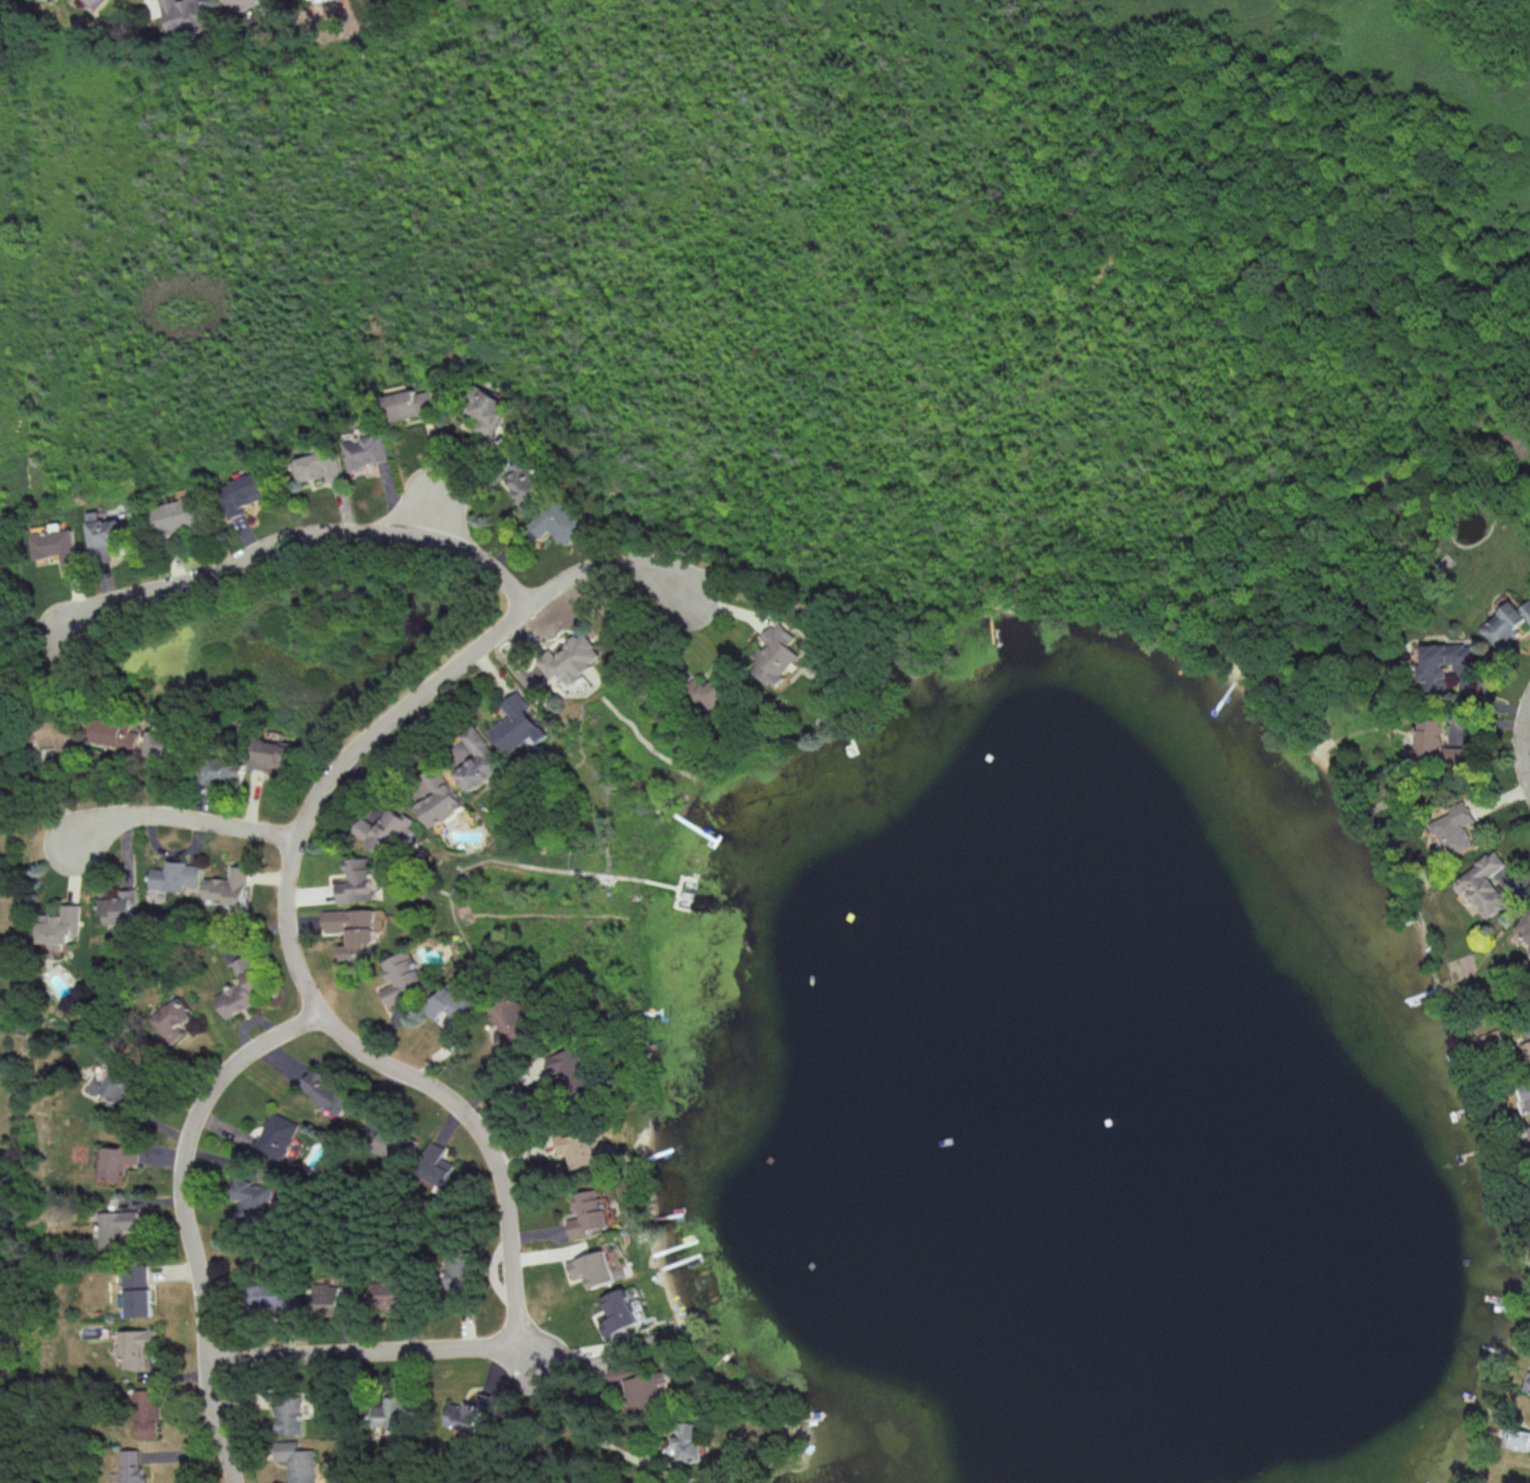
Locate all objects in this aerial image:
building: (95, 3)
building: (185, 14)
building: (410, 402)
building: (489, 413)
building: (366, 448)
building: (318, 465)
road: (430, 479)
building: (524, 479)
building: (244, 489)
road: (455, 491)
building: (178, 514)
building: (559, 522)
building: (109, 529)
road: (302, 536)
building: (56, 547)
road: (21, 612)
building: (1506, 624)
building: (779, 653)
building: (573, 659)
building: (1443, 664)
building: (518, 724)
building: (119, 734)
building: (58, 736)
building: (163, 739)
building: (1430, 739)
road: (1522, 748)
building: (275, 751)
building: (480, 760)
building: (225, 771)
building: (441, 799)
road: (187, 819)
building: (1456, 829)
building: (386, 830)
building: (177, 875)
building: (358, 880)
building: (230, 886)
building: (121, 907)
park: (23, 921)
building: (61, 926)
building: (1524, 926)
building: (354, 928)
building: (403, 977)
building: (242, 989)
building: (452, 1001)
road: (335, 1016)
building: (174, 1018)
building: (510, 1025)
building: (1493, 1040)
building: (571, 1065)
building: (114, 1083)
building: (329, 1091)
building: (1527, 1091)
road: (33, 1107)
road: (32, 1123)
road: (11, 1124)
building: (1529, 1130)
building: (276, 1137)
building: (396, 1143)
building: (578, 1147)
building: (118, 1162)
building: (435, 1164)
building: (256, 1199)
building: (590, 1212)
road: (185, 1213)
building: (118, 1227)
building: (598, 1268)
building: (462, 1279)
building: (137, 1290)
building: (276, 1295)
building: (336, 1297)
building: (619, 1313)
building: (137, 1347)
building: (1527, 1382)
building: (640, 1385)
building: (146, 1411)
building: (293, 1411)
building: (391, 1412)
road: (565, 1412)
building: (477, 1413)
building: (451, 1414)
building: (1517, 1437)
building: (688, 1440)
building: (131, 1466)

